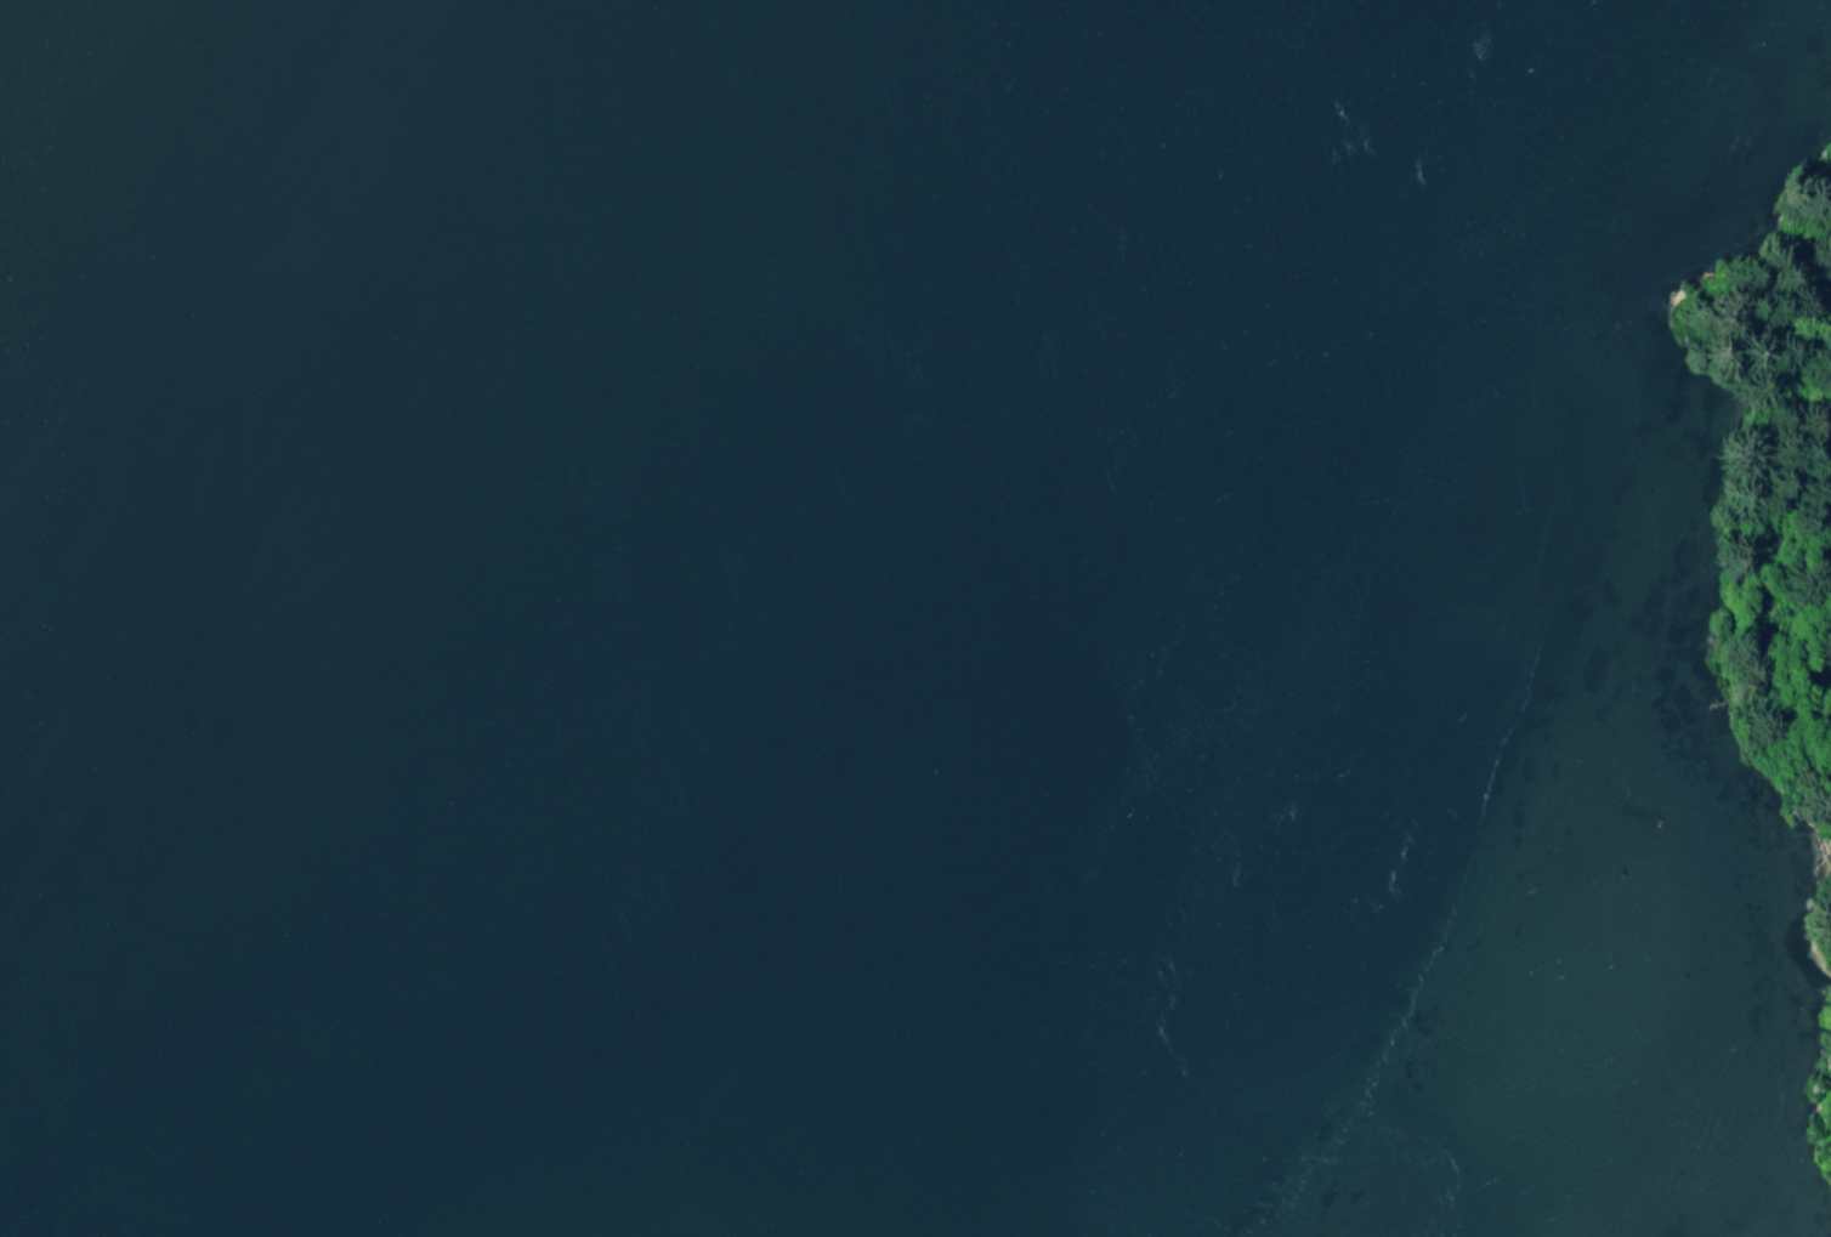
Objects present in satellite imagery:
river: (601, 301)
road: (1776, 605)
river: (198, 833)

